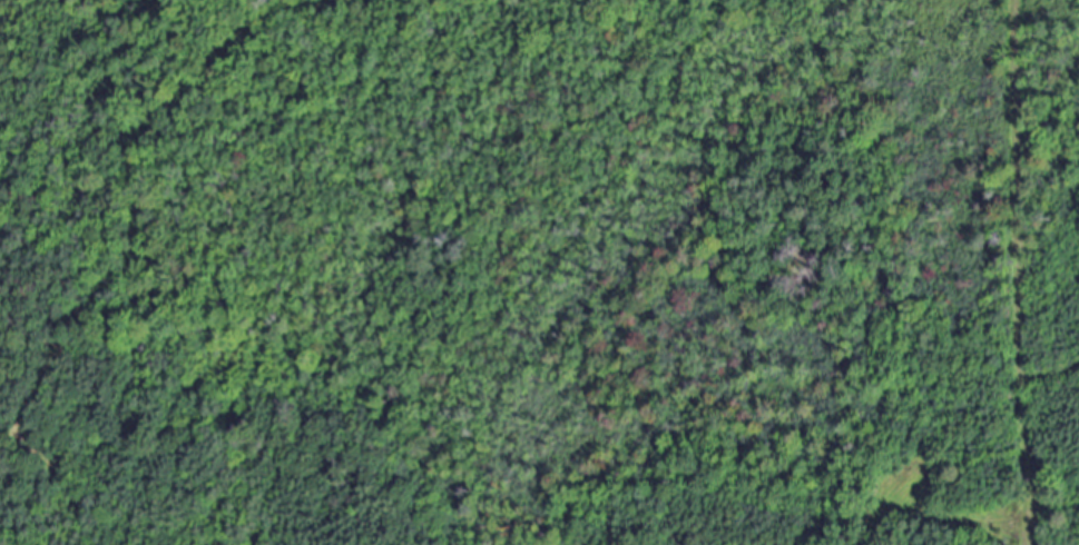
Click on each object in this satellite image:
road: (137, 252)
road: (1016, 272)
road: (13, 442)

